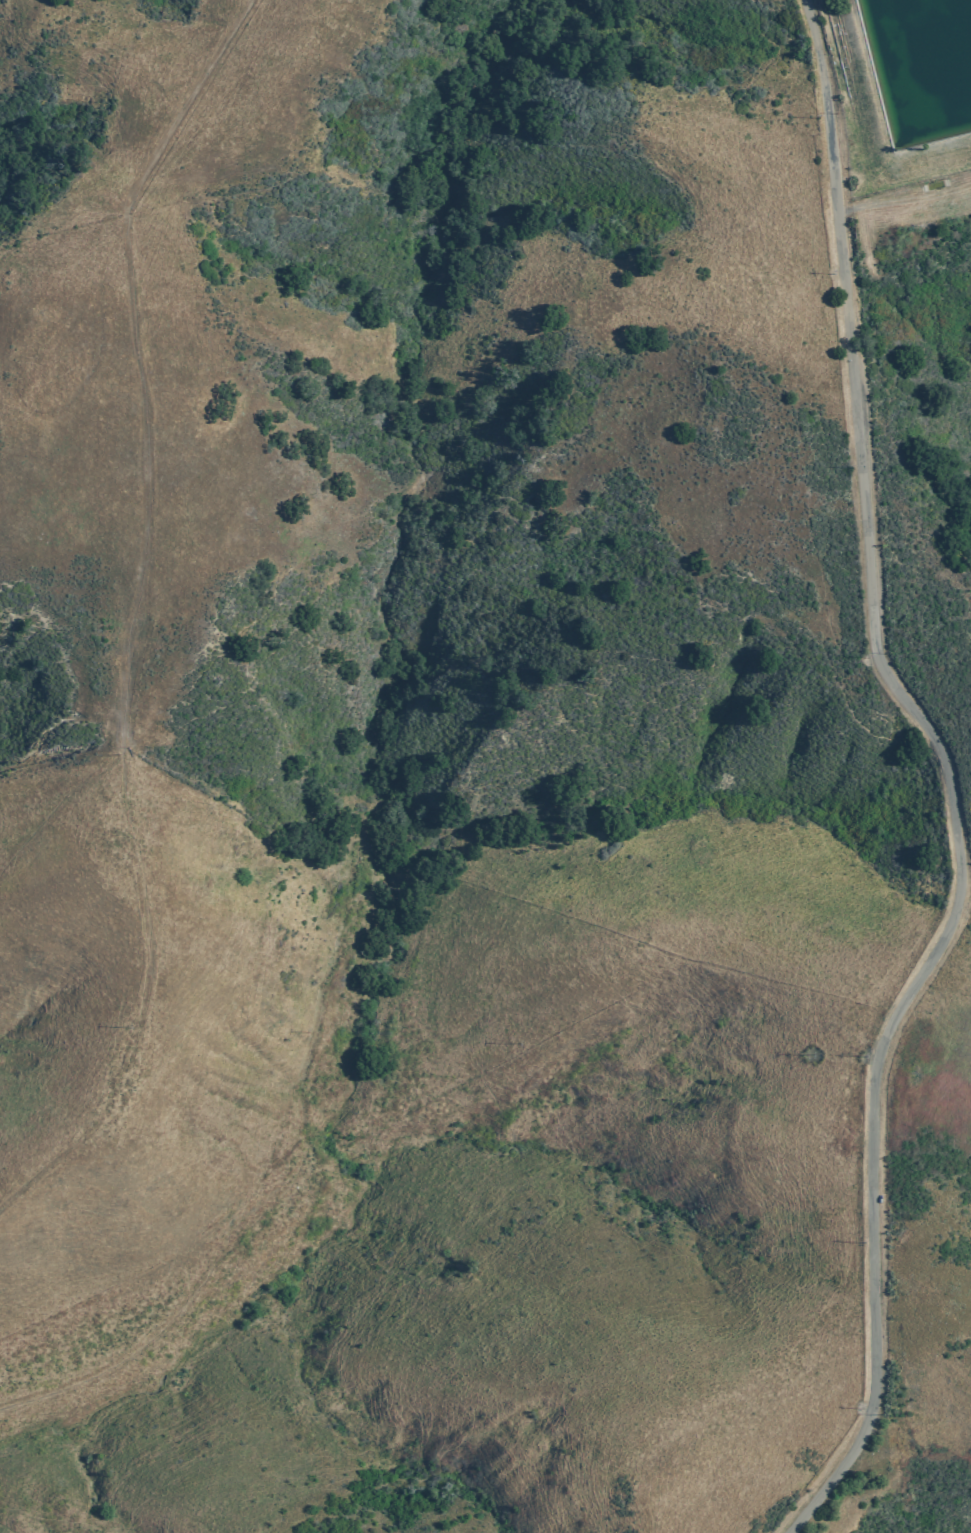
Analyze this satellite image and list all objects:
road: (903, 199)
road: (948, 777)

